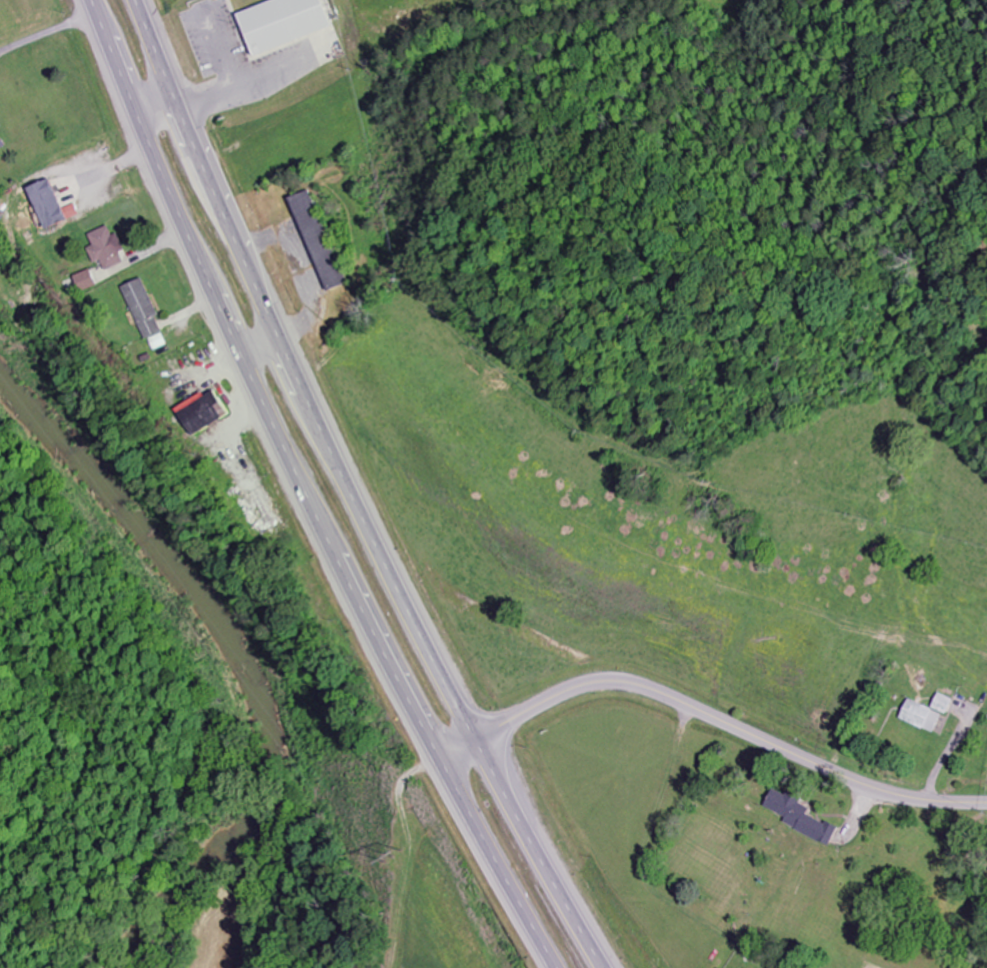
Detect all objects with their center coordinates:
building: (290, 23)
building: (57, 205)
building: (111, 249)
building: (91, 281)
building: (151, 315)
road: (299, 374)
road: (253, 386)
building: (212, 414)
building: (946, 704)
road: (708, 714)
building: (925, 716)
building: (805, 818)
road: (541, 854)
road: (493, 866)

